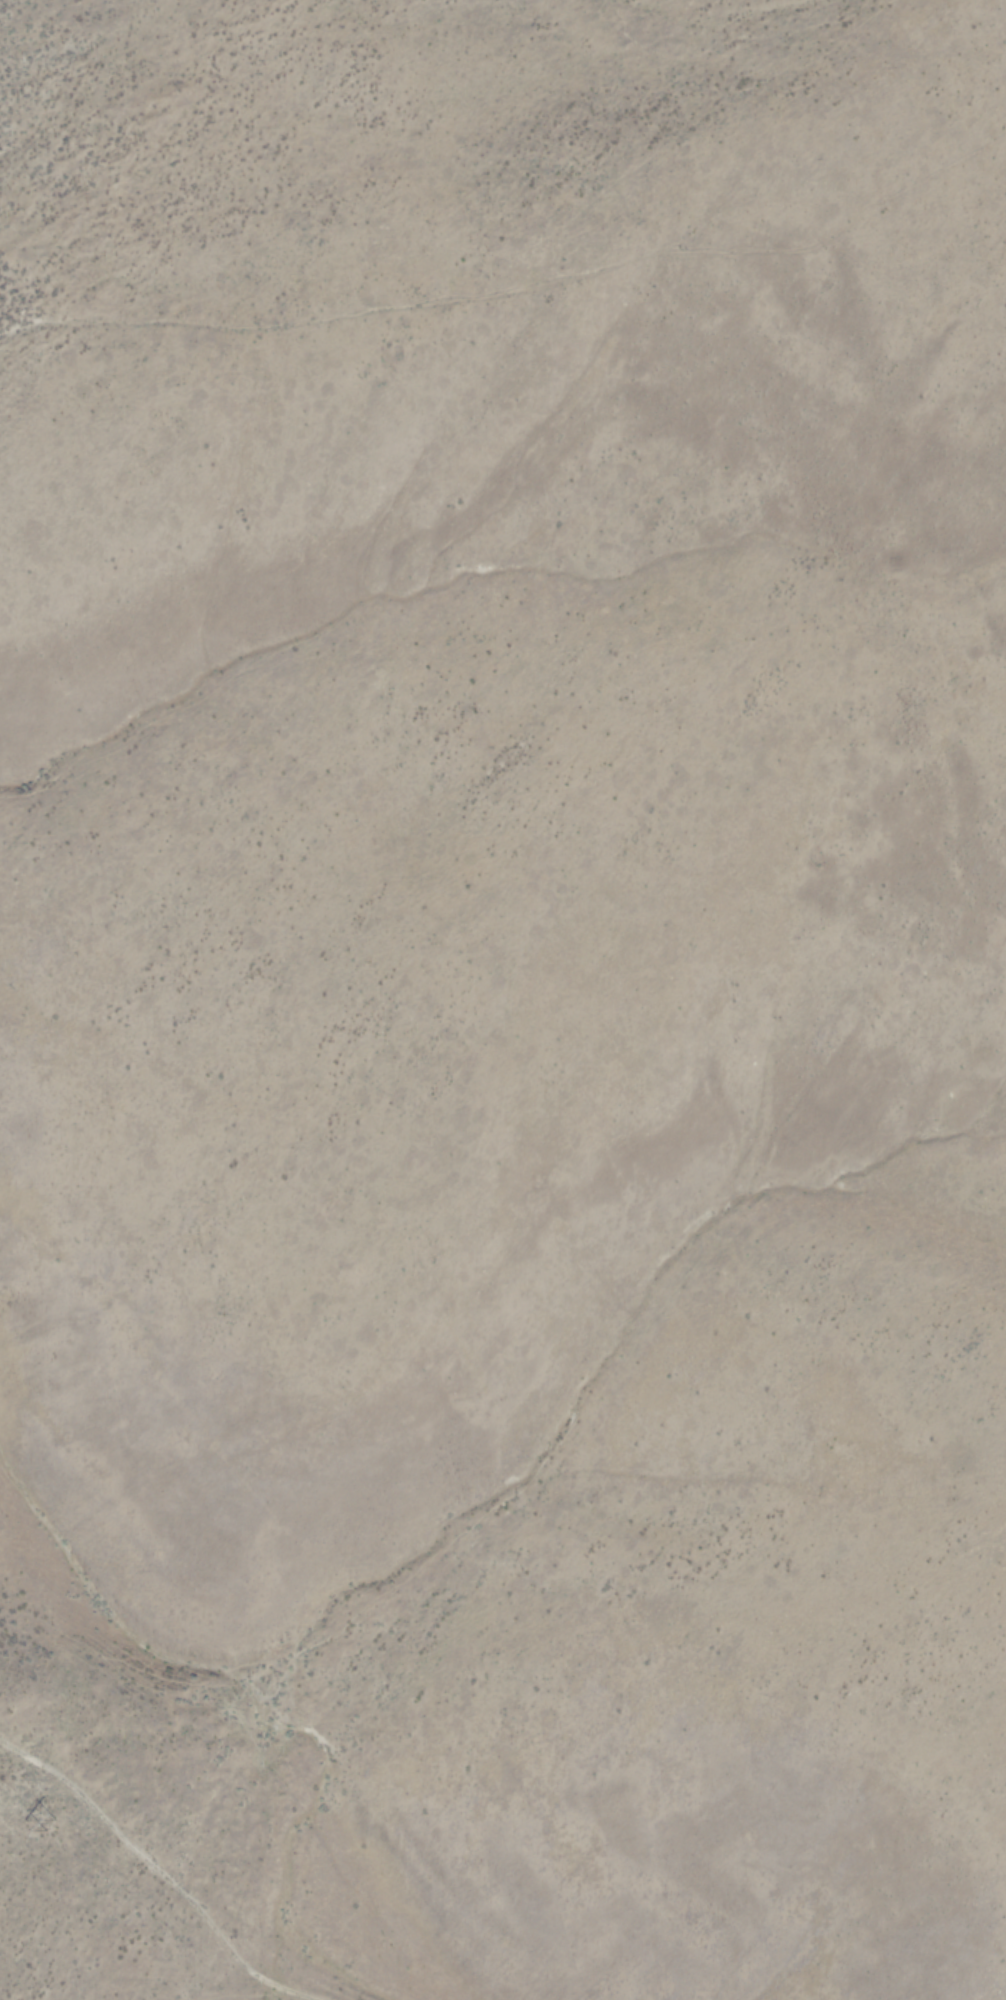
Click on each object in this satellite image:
power tower: (50, 1825)
road: (159, 1865)

